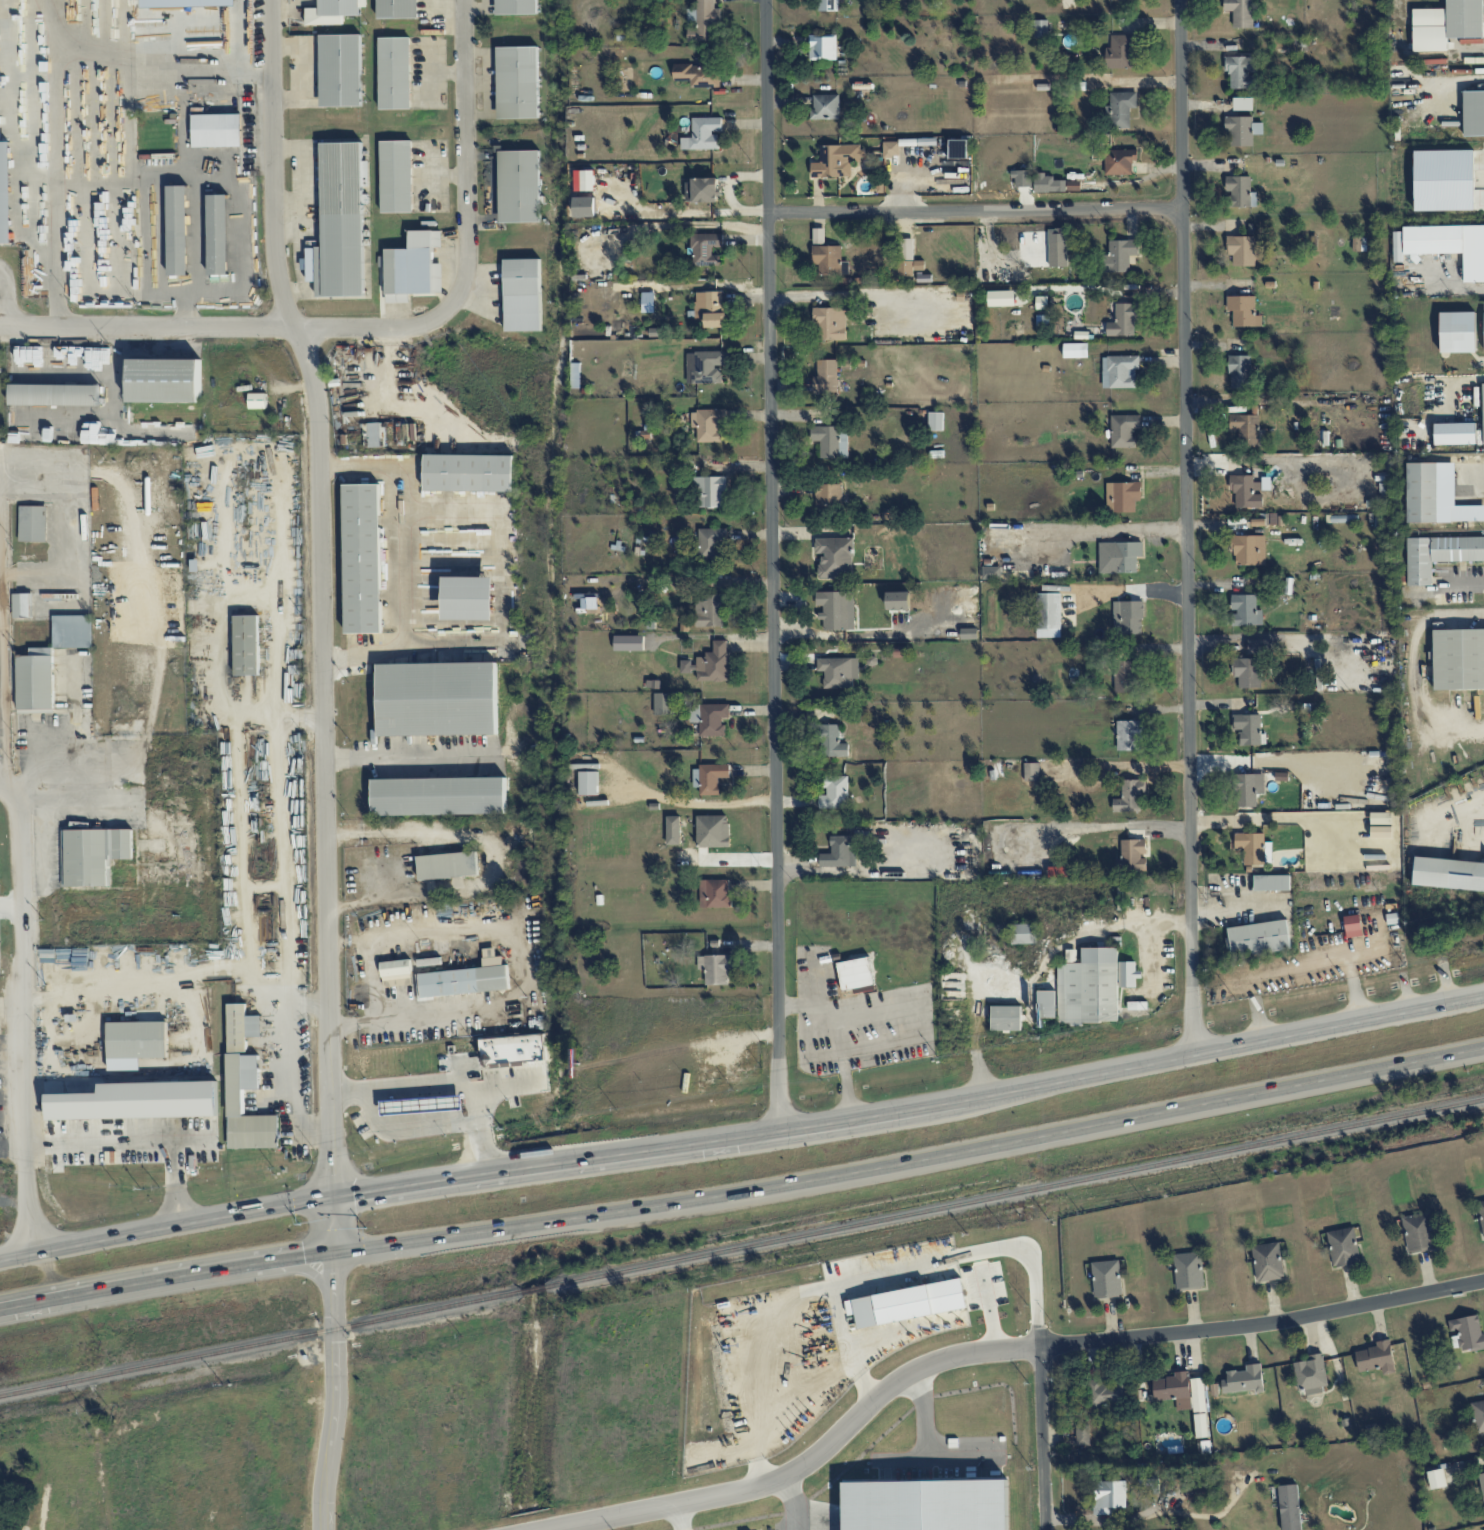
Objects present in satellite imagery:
building: (1110, 0)
building: (828, 5)
building: (516, 7)
building: (397, 9)
building: (333, 11)
building: (1240, 12)
building: (703, 22)
building: (1446, 24)
building: (1041, 28)
building: (822, 47)
building: (1119, 52)
road: (142, 59)
building: (340, 70)
building: (1241, 71)
building: (394, 73)
building: (698, 75)
road: (1460, 78)
building: (518, 82)
building: (825, 107)
building: (1119, 109)
building: (1473, 113)
building: (217, 130)
building: (703, 134)
building: (890, 148)
building: (958, 148)
building: (836, 160)
building: (1119, 161)
road: (51, 172)
building: (396, 176)
building: (584, 180)
building: (1048, 183)
building: (1073, 185)
building: (519, 186)
building: (702, 190)
building: (1239, 190)
building: (6, 194)
road: (233, 206)
road: (976, 211)
building: (342, 221)
road: (139, 230)
building: (177, 230)
building: (218, 234)
building: (818, 235)
building: (1396, 239)
building: (1359, 242)
building: (1450, 245)
building: (1055, 247)
building: (705, 248)
building: (906, 249)
building: (1243, 249)
building: (1119, 255)
building: (828, 259)
building: (918, 265)
building: (413, 267)
building: (905, 268)
building: (522, 294)
building: (1000, 298)
road: (8, 302)
building: (1042, 302)
building: (711, 308)
building: (1243, 311)
building: (1123, 320)
building: (830, 323)
road: (383, 328)
building: (1457, 332)
building: (1076, 350)
building: (705, 366)
building: (1120, 371)
building: (1240, 371)
building: (826, 377)
building: (165, 380)
building: (54, 394)
building: (257, 400)
building: (1483, 402)
building: (935, 421)
building: (708, 424)
building: (1245, 428)
building: (1124, 430)
building: (1455, 433)
building: (831, 441)
building: (469, 472)
road: (1461, 486)
building: (710, 491)
building: (1246, 491)
building: (1422, 492)
building: (828, 494)
building: (1122, 496)
building: (1467, 513)
building: (32, 523)
road: (1186, 526)
building: (711, 543)
building: (1249, 549)
building: (1439, 554)
building: (1119, 556)
building: (835, 557)
building: (362, 558)
road: (403, 561)
road: (773, 568)
building: (991, 572)
road: (1447, 588)
building: (469, 598)
building: (898, 600)
building: (21, 605)
building: (836, 609)
building: (709, 610)
building: (1245, 610)
building: (1048, 615)
building: (1127, 617)
building: (73, 631)
building: (969, 633)
road: (1231, 637)
building: (628, 643)
building: (246, 645)
building: (1260, 646)
building: (1458, 659)
building: (711, 663)
road: (1414, 666)
building: (838, 671)
building: (1247, 671)
building: (1124, 676)
building: (35, 682)
building: (437, 698)
building: (663, 703)
building: (709, 718)
building: (1248, 728)
building: (1129, 735)
building: (831, 742)
road: (409, 757)
road: (326, 762)
building: (1032, 771)
building: (709, 777)
building: (588, 783)
building: (1248, 788)
building: (834, 793)
building: (1130, 795)
building: (439, 796)
road: (6, 797)
road: (1289, 816)
building: (1381, 818)
road: (1099, 827)
building: (673, 830)
building: (712, 831)
road: (284, 837)
building: (1254, 848)
building: (837, 852)
building: (92, 854)
building: (1132, 855)
road: (493, 857)
building: (447, 865)
building: (1448, 873)
building: (1271, 882)
building: (715, 893)
road: (9, 906)
road: (1171, 923)
building: (1353, 925)
building: (1024, 933)
building: (1259, 938)
road: (1153, 954)
road: (518, 965)
building: (715, 968)
road: (1297, 970)
building: (396, 972)
building: (855, 973)
building: (1128, 974)
road: (159, 975)
road: (374, 978)
building: (465, 979)
road: (1015, 981)
building: (1084, 989)
building: (1137, 1005)
building: (1006, 1017)
building: (241, 1027)
road: (20, 1028)
building: (137, 1039)
road: (840, 1040)
building: (513, 1048)
road: (294, 1063)
road: (445, 1081)
road: (501, 1087)
building: (138, 1101)
building: (235, 1102)
road: (135, 1140)
road: (744, 1141)
road: (12, 1149)
road: (744, 1190)
traffic signals: (333, 1200)
building: (1481, 1213)
building: (1417, 1233)
building: (1343, 1246)
railway: (742, 1247)
building: (974, 1252)
traffic signals: (334, 1253)
building: (1267, 1261)
building: (1188, 1270)
building: (1106, 1279)
road: (848, 1282)
building: (907, 1303)
road: (986, 1308)
building: (952, 1319)
road: (1263, 1323)
road: (836, 1324)
building: (1466, 1333)
road: (892, 1336)
building: (1376, 1357)
road: (830, 1374)
building: (1311, 1374)
building: (1244, 1379)
building: (1106, 1394)
building: (1185, 1397)
building: (1478, 1415)
building: (1083, 1435)
road: (1042, 1437)
road: (798, 1460)
building: (1437, 1478)
building: (1481, 1483)
building: (1195, 1491)
building: (1109, 1496)
road: (794, 1499)
park: (16, 1500)
building: (1289, 1507)
road: (1152, 1513)
road: (678, 1515)

